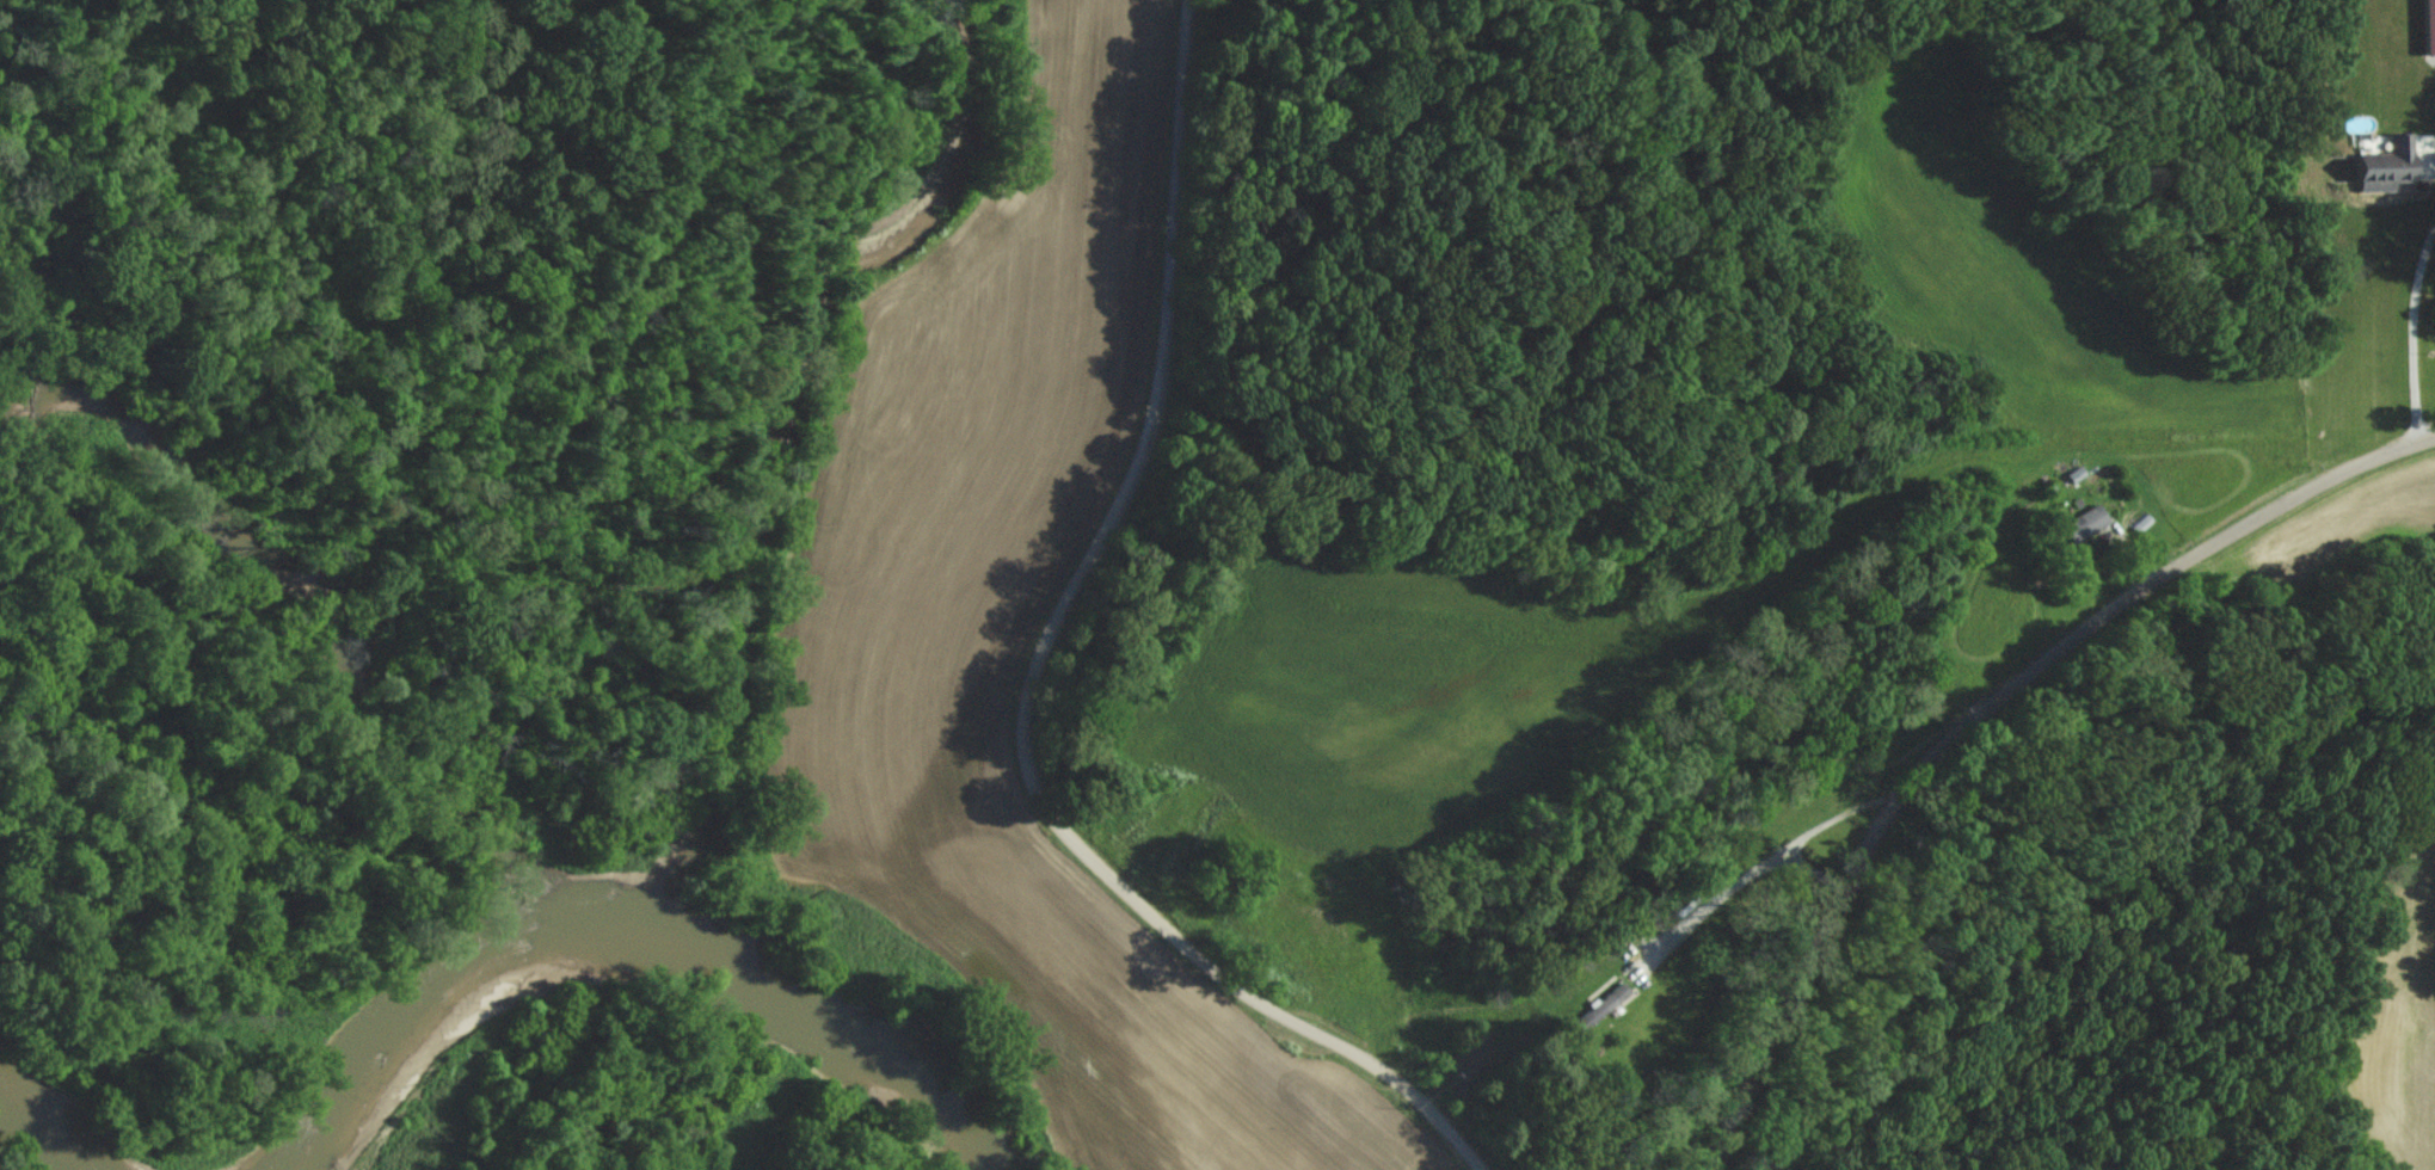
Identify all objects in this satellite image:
building: (2427, 26)
road: (2418, 155)
building: (2384, 165)
road: (2405, 309)
building: (2086, 526)
road: (1026, 679)
road: (1975, 709)
road: (1721, 891)
river: (648, 949)
building: (1599, 1005)
river: (75, 1138)

